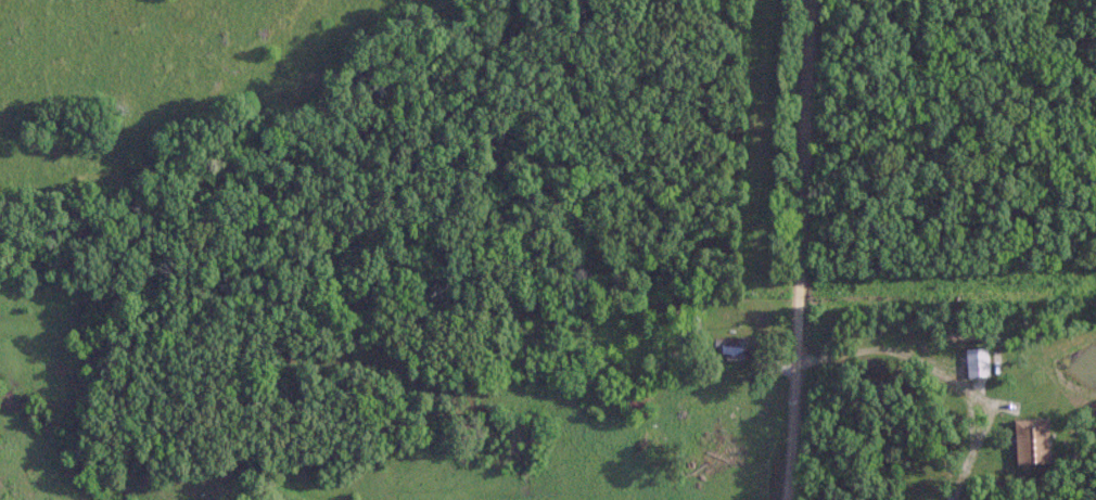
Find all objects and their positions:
road: (796, 249)
building: (726, 346)
road: (874, 348)
building: (973, 362)
building: (633, 403)
building: (1030, 441)
building: (978, 462)

